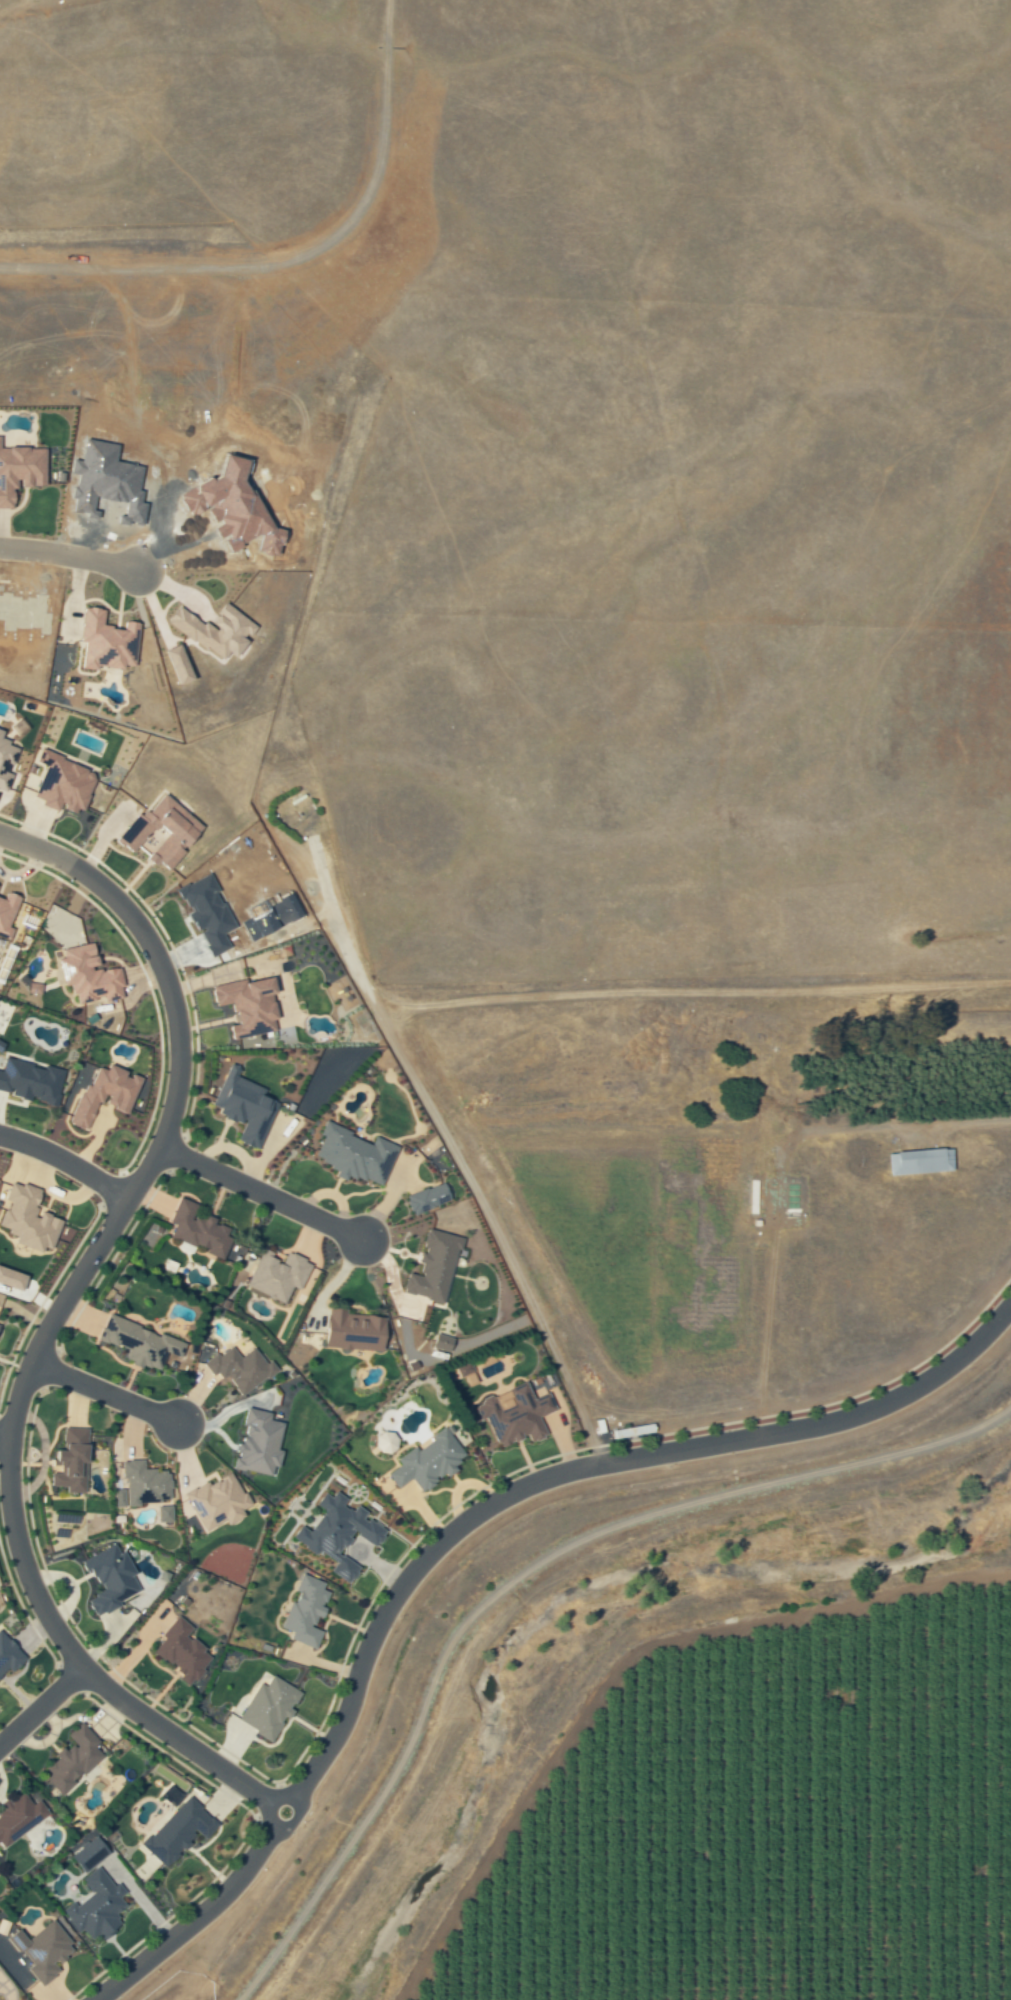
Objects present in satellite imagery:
building: (21, 471)
road: (66, 556)
building: (217, 631)
building: (109, 641)
building: (64, 653)
building: (182, 665)
building: (6, 761)
building: (62, 784)
building: (165, 831)
road: (35, 850)
building: (0, 885)
building: (210, 912)
building: (8, 914)
building: (91, 975)
building: (32, 983)
building: (252, 1004)
building: (32, 1081)
building: (108, 1093)
building: (246, 1106)
building: (358, 1155)
road: (66, 1161)
building: (918, 1162)
building: (0, 1182)
road: (261, 1193)
building: (430, 1198)
building: (31, 1219)
building: (201, 1230)
building: (436, 1268)
building: (282, 1276)
building: (13, 1279)
building: (0, 1325)
building: (357, 1331)
building: (444, 1341)
building: (142, 1343)
road: (31, 1362)
building: (242, 1368)
road: (105, 1393)
building: (520, 1415)
road: (5, 1434)
building: (261, 1444)
building: (388, 1444)
building: (73, 1459)
building: (431, 1461)
building: (150, 1488)
building: (121, 1498)
building: (220, 1502)
road: (460, 1528)
building: (342, 1533)
road: (522, 1574)
building: (114, 1579)
building: (303, 1611)
building: (180, 1651)
building: (7, 1655)
road: (41, 1707)
building: (266, 1707)
building: (71, 1758)
building: (170, 1795)
building: (17, 1816)
building: (175, 1831)
building: (86, 1854)
building: (95, 1905)
building: (44, 1951)

